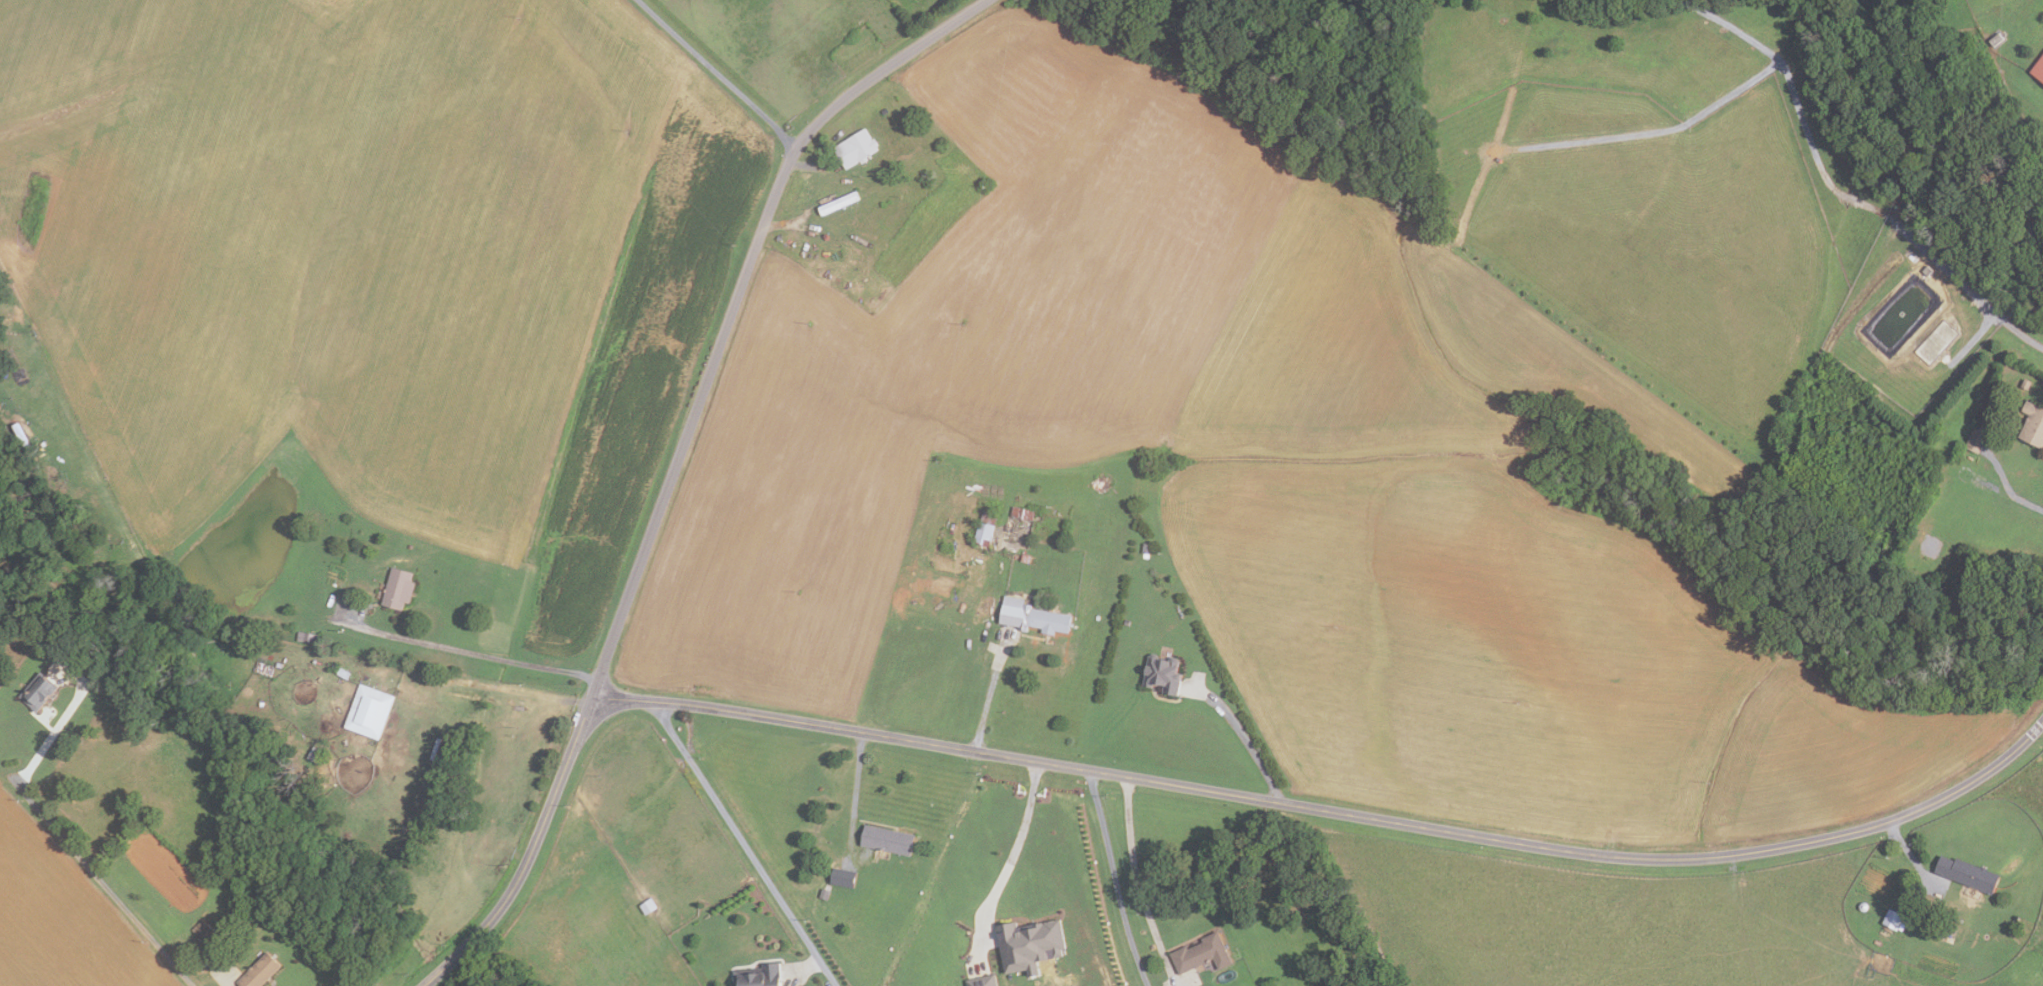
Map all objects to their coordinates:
building: (1995, 38)
building: (2038, 69)
road: (716, 72)
building: (884, 111)
building: (855, 148)
building: (837, 203)
road: (1953, 275)
road: (732, 307)
road: (2021, 334)
building: (2025, 383)
building: (2032, 425)
building: (1976, 439)
road: (2017, 498)
building: (1021, 513)
building: (985, 528)
building: (1930, 547)
building: (1146, 548)
building: (1025, 558)
building: (401, 589)
building: (1032, 617)
building: (1098, 617)
building: (1126, 623)
building: (310, 638)
road: (467, 652)
building: (1161, 674)
road: (990, 689)
building: (42, 691)
building: (372, 712)
road: (57, 732)
road: (1242, 736)
building: (318, 755)
road: (856, 790)
road: (1331, 810)
road: (737, 830)
building: (888, 841)
road: (1014, 852)
road: (530, 856)
road: (1912, 856)
building: (1966, 873)
road: (98, 876)
building: (842, 876)
road: (1114, 879)
crop: (649, 882)
building: (1940, 883)
road: (1137, 884)
building: (824, 893)
building: (646, 905)
building: (1892, 918)
building: (206, 930)
building: (1027, 944)
building: (1202, 954)
road: (803, 967)
building: (262, 971)
road: (828, 972)
building: (757, 975)
building: (981, 981)

